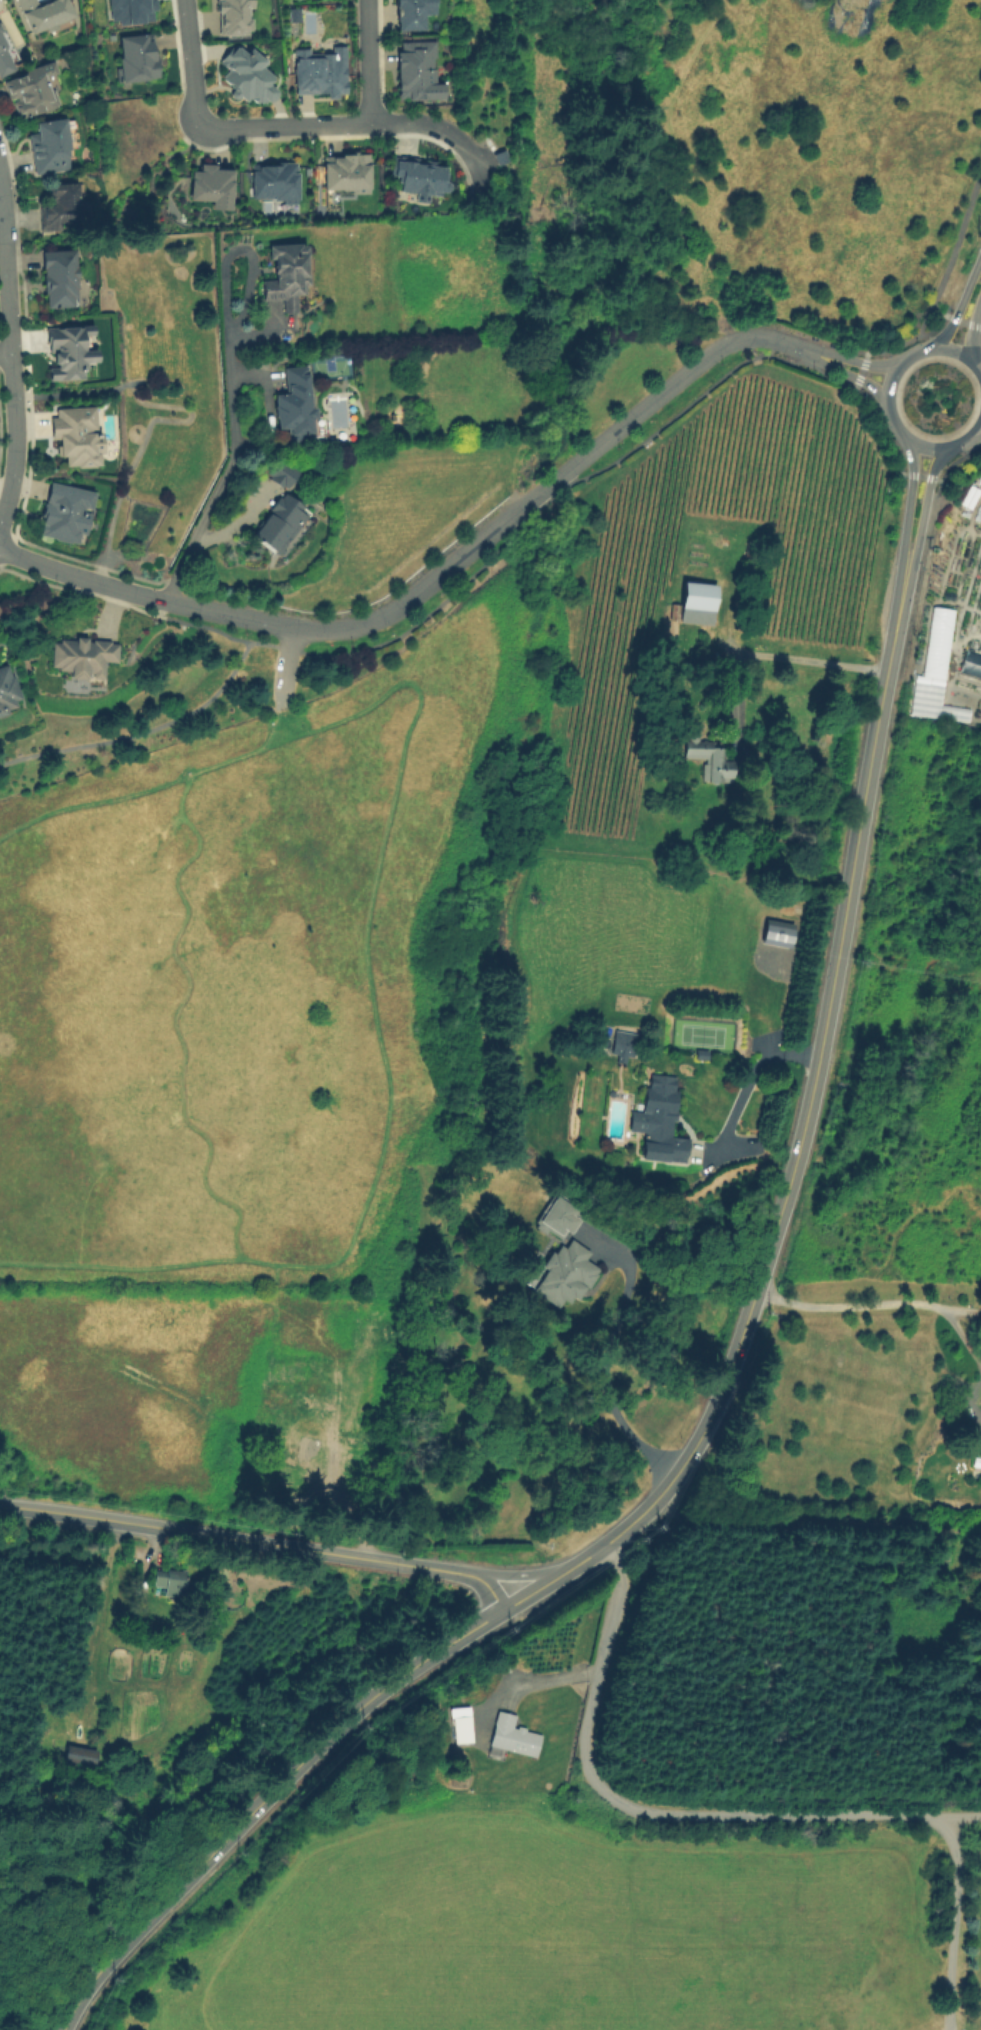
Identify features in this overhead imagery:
building: (132, 11)
building: (238, 12)
building: (419, 13)
building: (45, 14)
building: (0, 30)
building: (139, 57)
building: (4, 59)
road: (370, 61)
building: (423, 71)
building: (324, 72)
building: (245, 75)
building: (31, 93)
road: (223, 130)
road: (453, 139)
building: (50, 147)
building: (503, 160)
building: (348, 173)
building: (421, 179)
building: (277, 183)
building: (214, 186)
building: (63, 208)
road: (950, 250)
road: (6, 263)
building: (289, 278)
building: (61, 282)
road: (979, 296)
road: (958, 302)
road: (960, 322)
road: (969, 324)
road: (906, 339)
road: (5, 349)
building: (72, 352)
road: (853, 360)
road: (858, 371)
road: (847, 373)
road: (82, 392)
road: (883, 396)
building: (294, 405)
road: (870, 411)
road: (974, 432)
road: (11, 436)
building: (78, 440)
road: (139, 443)
road: (229, 465)
road: (945, 465)
building: (283, 474)
road: (917, 476)
road: (555, 492)
road: (905, 502)
road: (921, 508)
building: (69, 517)
road: (501, 520)
building: (278, 523)
road: (83, 576)
building: (698, 604)
road: (136, 609)
road: (107, 611)
building: (675, 612)
road: (217, 632)
building: (935, 646)
road: (284, 647)
building: (83, 657)
road: (810, 661)
building: (970, 665)
road: (283, 668)
building: (7, 696)
road: (268, 729)
road: (141, 732)
building: (709, 759)
road: (129, 793)
building: (774, 934)
park: (701, 1035)
building: (624, 1046)
road: (380, 1053)
road: (746, 1081)
building: (657, 1122)
building: (556, 1218)
building: (563, 1275)
road: (865, 1305)
building: (377, 1332)
road: (960, 1336)
road: (604, 1362)
road: (699, 1431)
building: (314, 1447)
road: (813, 1524)
road: (260, 1542)
building: (976, 1572)
road: (522, 1574)
building: (173, 1583)
road: (539, 1685)
building: (463, 1730)
building: (514, 1737)
building: (78, 1755)
road: (638, 1810)
road: (962, 1817)
road: (957, 1922)

